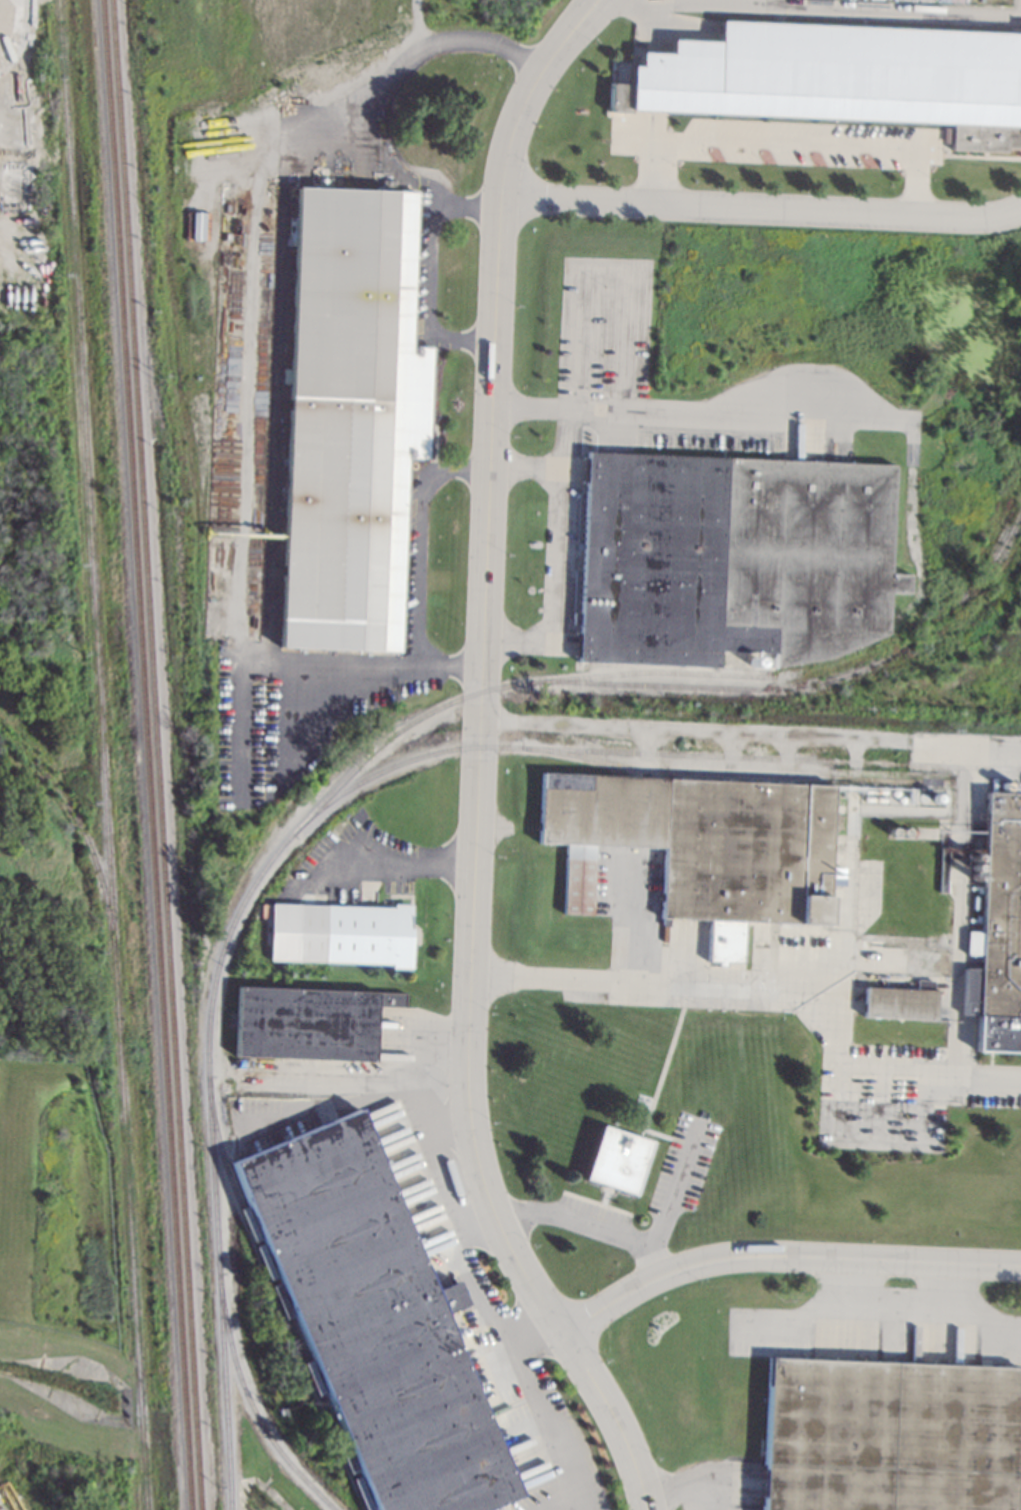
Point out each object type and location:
road: (838, 6)
road: (643, 7)
road: (19, 35)
road: (394, 74)
building: (841, 78)
road: (787, 144)
road: (658, 174)
road: (914, 184)
road: (468, 204)
building: (198, 211)
road: (761, 212)
road: (434, 266)
road: (458, 343)
building: (349, 405)
road: (696, 411)
road: (525, 469)
road: (559, 558)
building: (733, 558)
road: (419, 572)
road: (258, 662)
railway: (813, 683)
road: (749, 732)
railway: (646, 752)
road: (647, 752)
railway: (146, 754)
railway: (155, 755)
road: (731, 756)
road: (786, 759)
road: (477, 762)
railway: (735, 773)
road: (966, 777)
building: (702, 846)
road: (351, 866)
road: (851, 866)
building: (942, 869)
railway: (244, 900)
building: (1001, 907)
building: (369, 934)
building: (882, 943)
road: (659, 986)
building: (969, 991)
building: (900, 1001)
building: (310, 1022)
road: (843, 1028)
road: (884, 1064)
road: (973, 1079)
road: (419, 1086)
road: (880, 1141)
building: (617, 1158)
road: (670, 1191)
road: (592, 1221)
road: (782, 1255)
road: (463, 1270)
railway: (279, 1295)
building: (375, 1321)
road: (534, 1401)
railway: (251, 1403)
building: (888, 1436)

